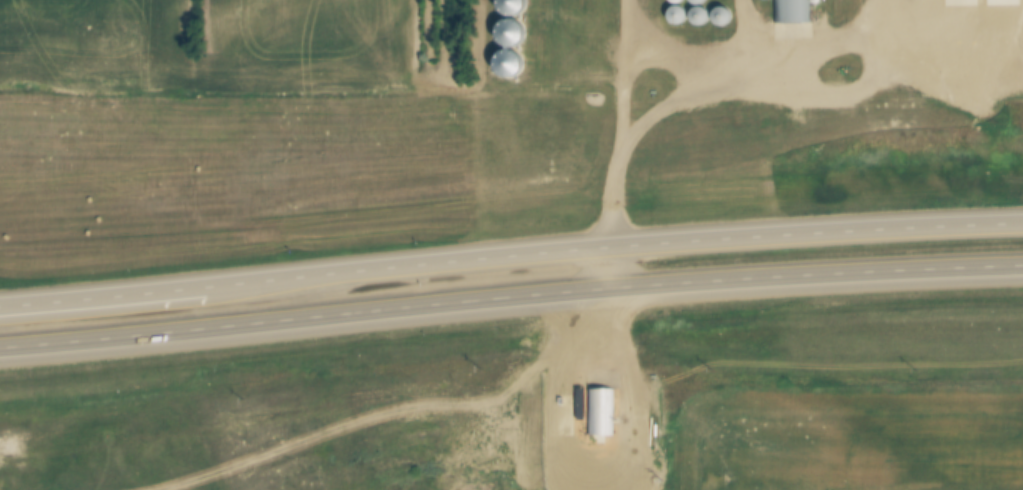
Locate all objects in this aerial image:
building: (700, 0)
silo: (700, 0)
building: (515, 6)
silo: (515, 6)
building: (797, 10)
building: (680, 11)
silo: (680, 11)
building: (702, 12)
silo: (702, 12)
building: (724, 12)
silo: (724, 12)
building: (514, 32)
silo: (514, 32)
building: (512, 63)
silo: (512, 63)
road: (626, 75)
road: (776, 100)
road: (610, 200)
road: (511, 259)
road: (609, 268)
road: (511, 297)
building: (396, 397)
building: (605, 414)
building: (398, 422)
storage tank: (659, 427)
road: (597, 473)

